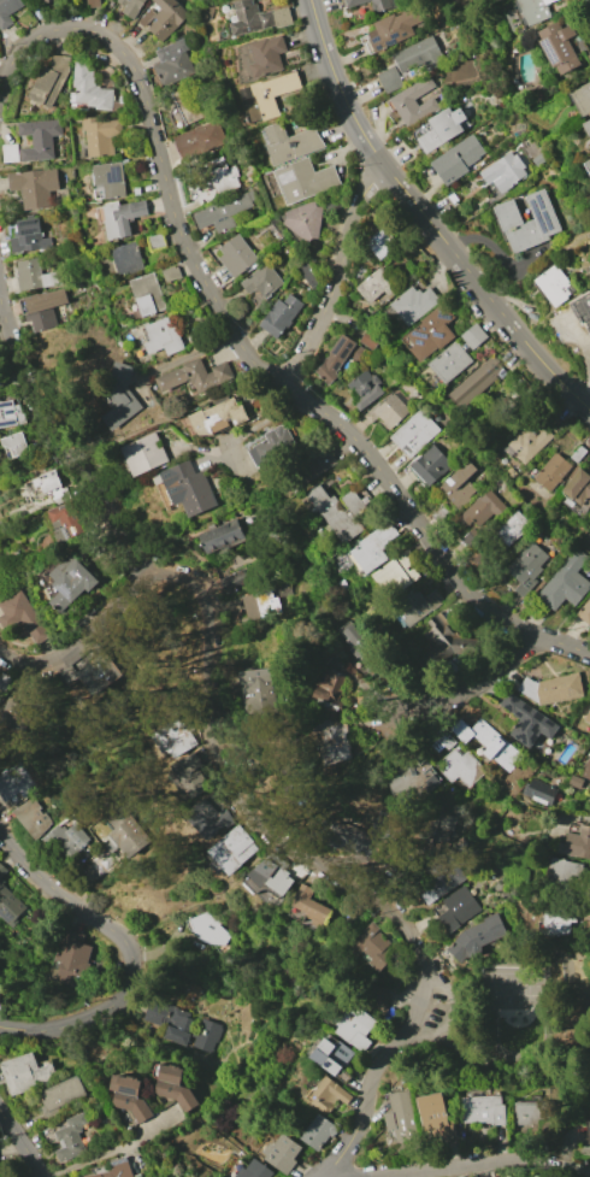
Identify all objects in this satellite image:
building: (498, 0)
building: (90, 4)
building: (377, 4)
building: (131, 6)
building: (536, 10)
building: (8, 11)
building: (164, 18)
building: (256, 18)
building: (397, 25)
building: (559, 47)
building: (589, 55)
building: (260, 58)
building: (175, 61)
building: (412, 61)
building: (51, 81)
building: (89, 90)
building: (269, 95)
building: (582, 99)
building: (414, 102)
building: (188, 105)
building: (586, 126)
building: (442, 129)
building: (100, 135)
building: (40, 139)
building: (200, 141)
building: (290, 143)
building: (11, 153)
building: (461, 158)
building: (541, 158)
building: (588, 164)
building: (507, 167)
building: (222, 176)
building: (110, 178)
building: (303, 180)
building: (35, 186)
building: (225, 212)
building: (122, 217)
road: (427, 217)
building: (305, 220)
building: (527, 222)
building: (29, 236)
building: (157, 242)
building: (382, 243)
building: (236, 255)
building: (126, 258)
building: (171, 273)
building: (36, 275)
building: (309, 276)
road: (338, 276)
building: (262, 281)
building: (376, 286)
building: (554, 286)
building: (148, 295)
building: (414, 305)
building: (42, 307)
building: (582, 307)
building: (282, 314)
building: (430, 335)
building: (474, 336)
building: (163, 337)
road: (240, 339)
building: (370, 341)
building: (341, 355)
building: (449, 363)
building: (195, 376)
building: (478, 382)
building: (119, 389)
building: (365, 389)
building: (390, 410)
building: (11, 413)
road: (177, 414)
building: (218, 417)
road: (255, 423)
building: (414, 434)
road: (57, 442)
building: (17, 443)
building: (529, 443)
building: (270, 445)
building: (146, 454)
building: (578, 454)
building: (326, 460)
building: (430, 466)
building: (553, 472)
road: (25, 473)
building: (511, 473)
building: (460, 484)
building: (42, 487)
building: (579, 488)
building: (193, 489)
building: (482, 508)
building: (338, 512)
building: (65, 513)
building: (512, 529)
building: (470, 536)
building: (223, 537)
building: (373, 547)
building: (527, 567)
road: (548, 571)
building: (399, 573)
building: (234, 579)
building: (72, 582)
building: (566, 582)
building: (267, 602)
building: (420, 605)
building: (585, 612)
building: (25, 617)
building: (454, 638)
building: (364, 649)
building: (101, 672)
building: (318, 678)
building: (5, 682)
building: (23, 684)
road: (466, 687)
building: (553, 688)
building: (259, 692)
building: (589, 692)
building: (16, 712)
building: (588, 717)
building: (529, 720)
building: (462, 731)
building: (178, 734)
building: (486, 738)
building: (332, 740)
building: (443, 741)
building: (187, 766)
building: (462, 766)
building: (586, 770)
building: (412, 777)
building: (13, 781)
building: (576, 781)
building: (543, 798)
road: (249, 802)
building: (210, 817)
building: (441, 828)
building: (51, 830)
building: (128, 832)
building: (365, 837)
building: (460, 843)
building: (577, 843)
building: (234, 851)
building: (101, 865)
building: (562, 871)
building: (277, 877)
building: (441, 882)
building: (10, 902)
building: (311, 904)
building: (455, 908)
building: (560, 922)
building: (211, 931)
building: (477, 938)
building: (365, 940)
road: (129, 951)
building: (70, 960)
road: (561, 971)
building: (0, 990)
park: (514, 991)
building: (389, 1013)
park: (524, 1014)
road: (446, 1019)
parking lot: (433, 1020)
building: (183, 1024)
building: (354, 1025)
road: (461, 1057)
building: (335, 1058)
road: (505, 1065)
road: (559, 1071)
building: (26, 1073)
building: (173, 1087)
building: (58, 1094)
building: (329, 1095)
building: (129, 1096)
building: (433, 1111)
building: (484, 1111)
building: (530, 1114)
building: (401, 1117)
building: (589, 1130)
building: (319, 1132)
building: (69, 1138)
road: (22, 1143)
building: (283, 1153)
road: (478, 1165)
building: (117, 1169)
building: (255, 1170)
building: (0, 1175)

